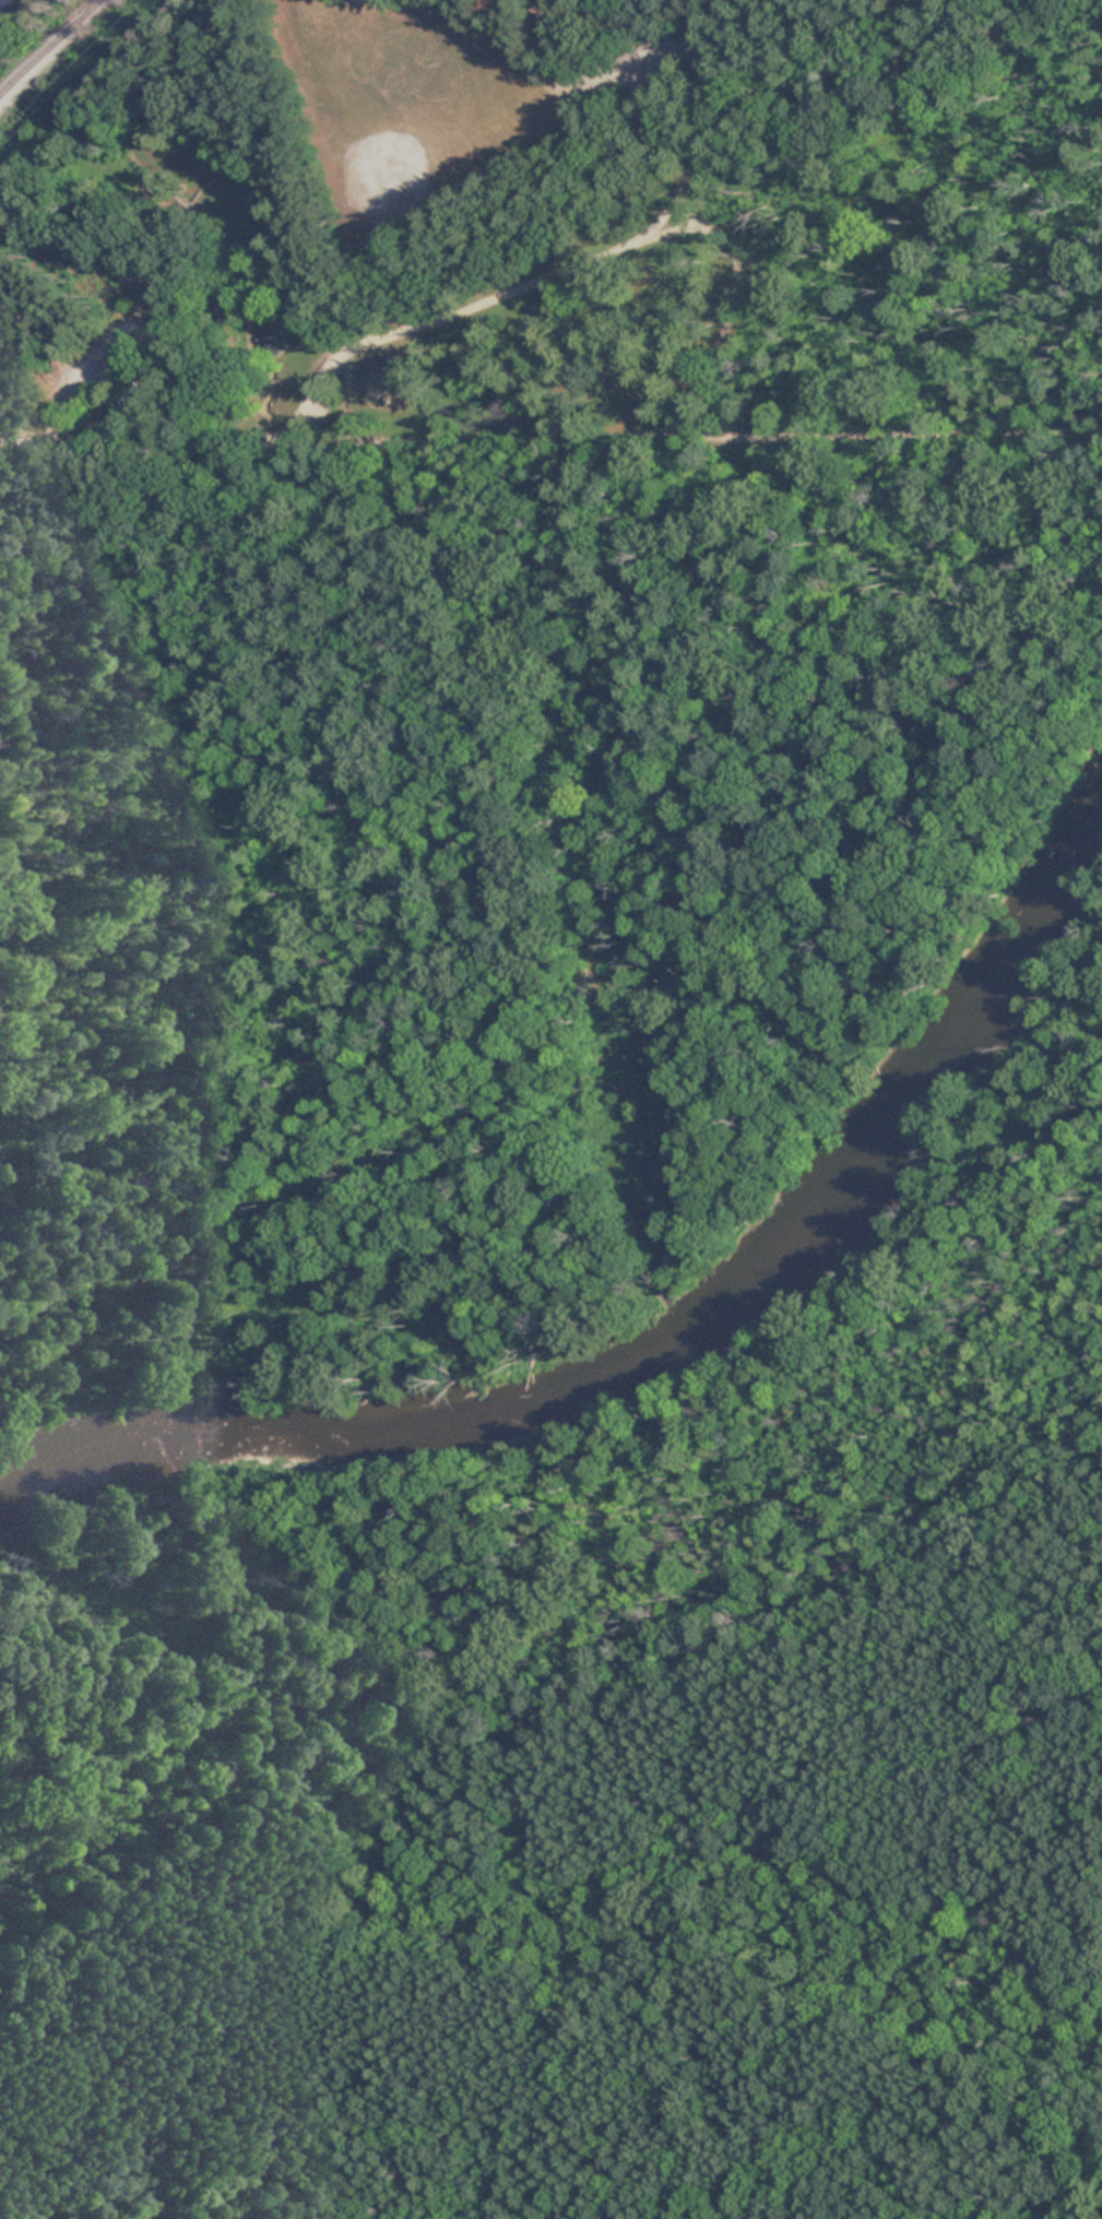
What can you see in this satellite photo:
road: (588, 39)
road: (677, 40)
railway: (49, 48)
road: (665, 143)
park: (553, 252)
road: (454, 288)
road: (116, 309)
building: (270, 342)
road: (615, 426)
river: (657, 1368)
park: (607, 1744)
road: (879, 1772)

